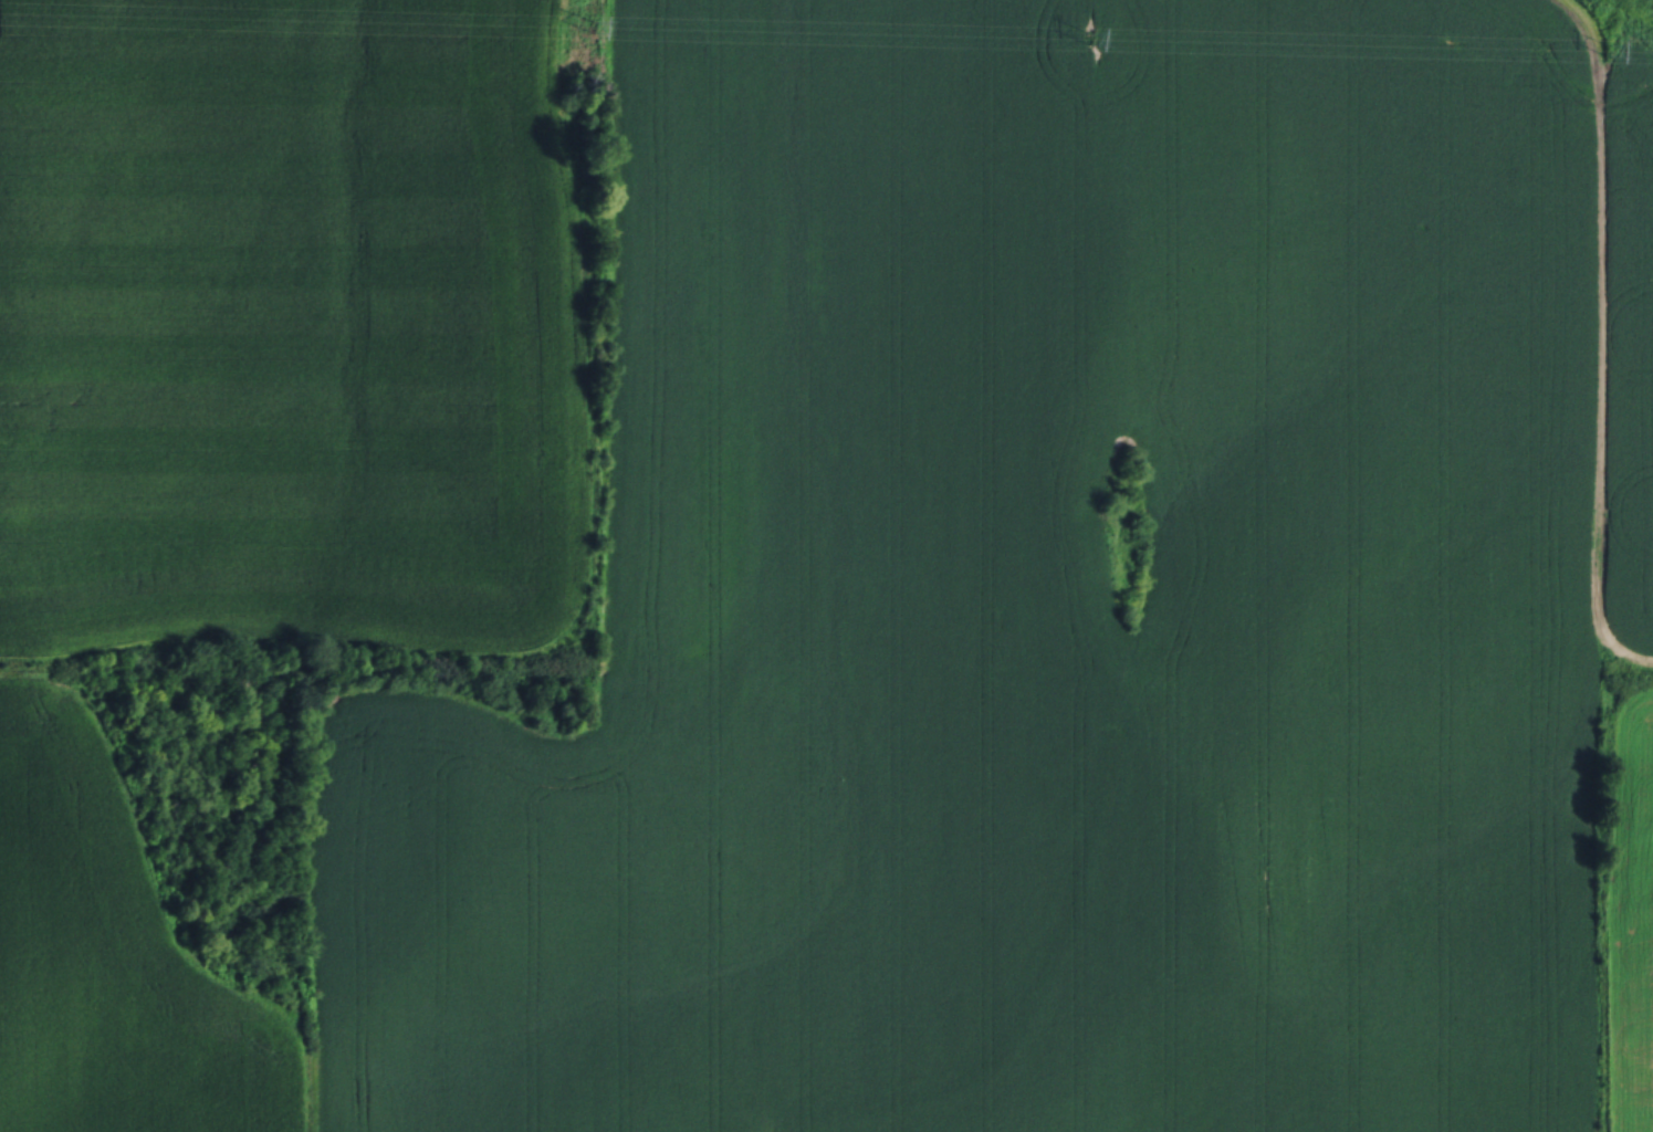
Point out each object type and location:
power tower: (589, 21)
power tower: (1087, 34)
power tower: (1607, 46)

